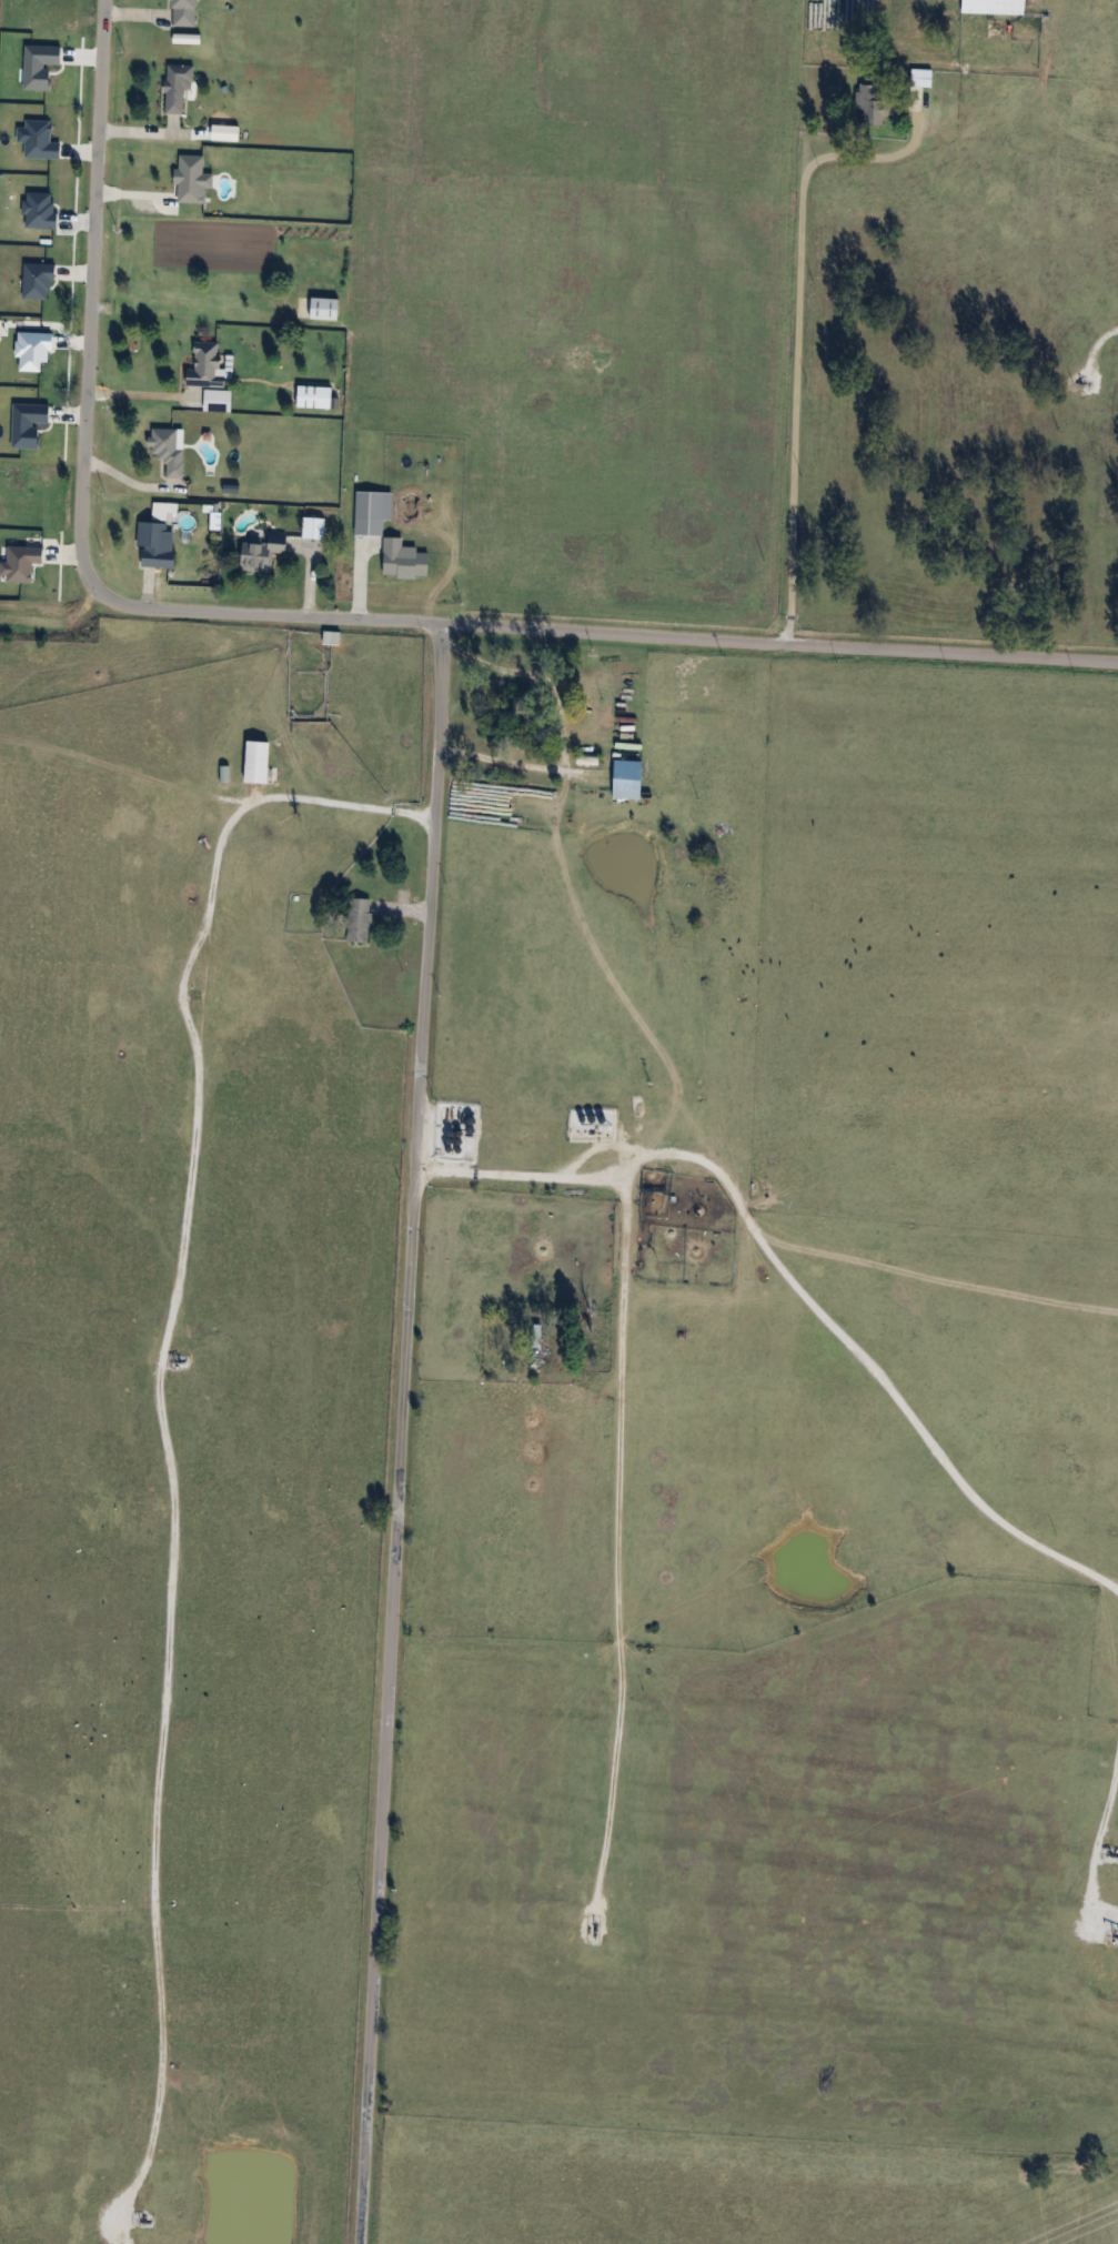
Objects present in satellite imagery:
building: (995, 7)
building: (187, 12)
building: (999, 30)
building: (179, 87)
building: (874, 102)
building: (326, 309)
road: (800, 335)
building: (208, 365)
building: (316, 396)
building: (170, 449)
road: (81, 472)
building: (314, 527)
building: (157, 544)
road: (779, 646)
building: (258, 761)
building: (629, 778)
building: (361, 919)
road: (162, 1396)
road: (400, 1432)

